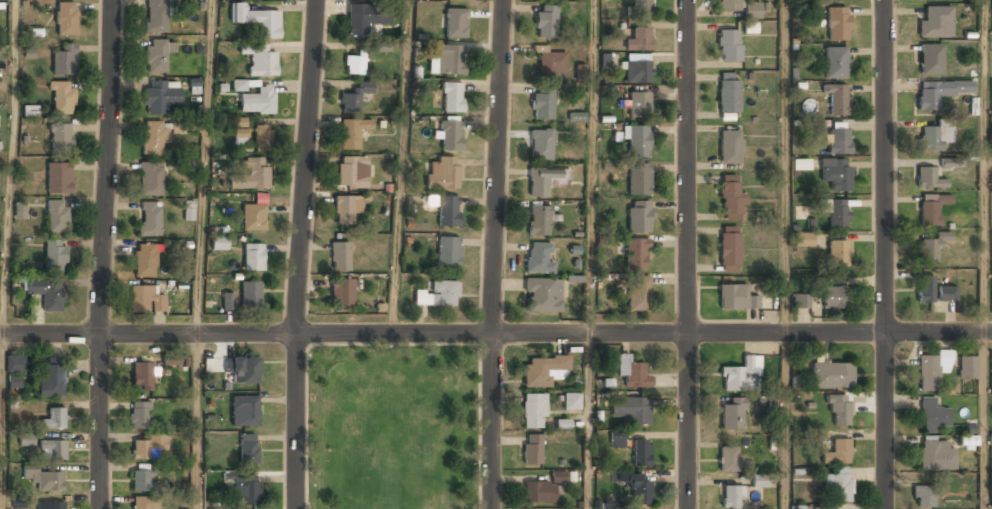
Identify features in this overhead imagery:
building: (830, 0)
building: (729, 5)
building: (642, 7)
building: (752, 10)
building: (156, 16)
building: (365, 18)
building: (65, 19)
building: (258, 20)
building: (545, 21)
building: (456, 22)
building: (935, 22)
building: (837, 23)
building: (639, 39)
building: (728, 45)
building: (156, 55)
building: (447, 59)
building: (931, 59)
building: (64, 60)
building: (259, 60)
building: (551, 61)
building: (835, 61)
building: (354, 64)
building: (637, 69)
building: (580, 72)
building: (939, 92)
building: (728, 96)
building: (62, 97)
building: (161, 97)
building: (354, 97)
building: (452, 97)
building: (837, 98)
building: (258, 101)
building: (542, 102)
building: (638, 104)
building: (30, 111)
building: (240, 131)
building: (352, 133)
building: (450, 134)
building: (60, 136)
building: (154, 138)
building: (932, 138)
building: (262, 139)
building: (637, 141)
building: (837, 141)
building: (541, 143)
building: (730, 147)
building: (952, 162)
building: (801, 164)
road: (786, 166)
road: (984, 166)
road: (7, 167)
road: (204, 167)
road: (398, 167)
road: (590, 167)
building: (352, 172)
building: (443, 172)
building: (835, 173)
building: (252, 175)
building: (59, 177)
building: (151, 178)
building: (928, 178)
building: (639, 179)
building: (545, 180)
building: (730, 197)
building: (347, 204)
building: (931, 207)
building: (19, 210)
building: (189, 210)
building: (448, 210)
building: (836, 211)
building: (57, 216)
building: (639, 216)
building: (253, 217)
building: (150, 219)
building: (538, 221)
building: (803, 239)
building: (219, 243)
building: (931, 247)
building: (447, 250)
building: (729, 252)
building: (836, 252)
building: (636, 253)
road: (103, 254)
road: (300, 254)
road: (492, 254)
road: (687, 254)
road: (882, 254)
building: (55, 255)
building: (340, 256)
building: (253, 257)
building: (539, 257)
building: (145, 261)
building: (925, 288)
building: (342, 291)
building: (46, 292)
building: (438, 293)
building: (639, 293)
building: (947, 293)
building: (250, 295)
building: (542, 296)
building: (835, 296)
building: (141, 298)
building: (734, 298)
building: (801, 300)
building: (228, 301)
road: (496, 334)
road: (392, 345)
road: (491, 349)
road: (295, 351)
building: (174, 359)
building: (14, 363)
building: (966, 367)
building: (243, 369)
building: (931, 369)
building: (543, 370)
building: (630, 371)
building: (832, 374)
building: (739, 375)
building: (141, 376)
building: (52, 379)
building: (14, 381)
building: (571, 401)
building: (631, 409)
building: (838, 409)
building: (244, 410)
building: (533, 411)
building: (733, 414)
building: (138, 415)
building: (933, 415)
building: (53, 419)
road: (983, 420)
road: (588, 421)
road: (785, 421)
road: (1, 422)
road: (197, 422)
park: (392, 428)
road: (479, 429)
road: (306, 430)
building: (26, 439)
building: (991, 439)
building: (616, 440)
building: (146, 448)
building: (248, 448)
building: (532, 449)
building: (52, 450)
building: (642, 452)
building: (837, 452)
building: (936, 455)
building: (728, 459)
building: (559, 476)
building: (43, 479)
building: (143, 480)
building: (759, 480)
building: (837, 487)
building: (639, 488)
building: (245, 489)
building: (538, 493)
building: (732, 496)
building: (924, 496)
building: (144, 502)
building: (51, 505)
building: (828, 508)

